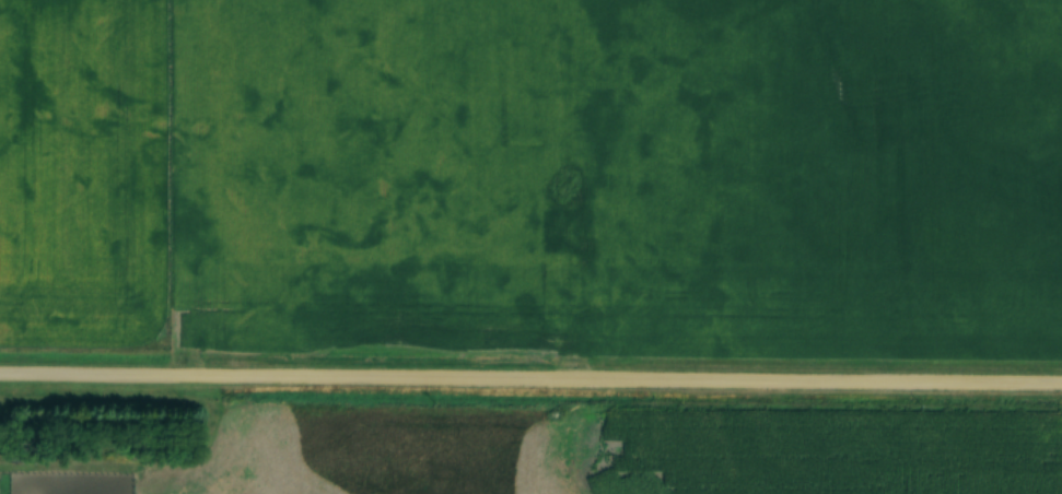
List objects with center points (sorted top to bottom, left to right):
crop: (361, 174)
road: (530, 377)

